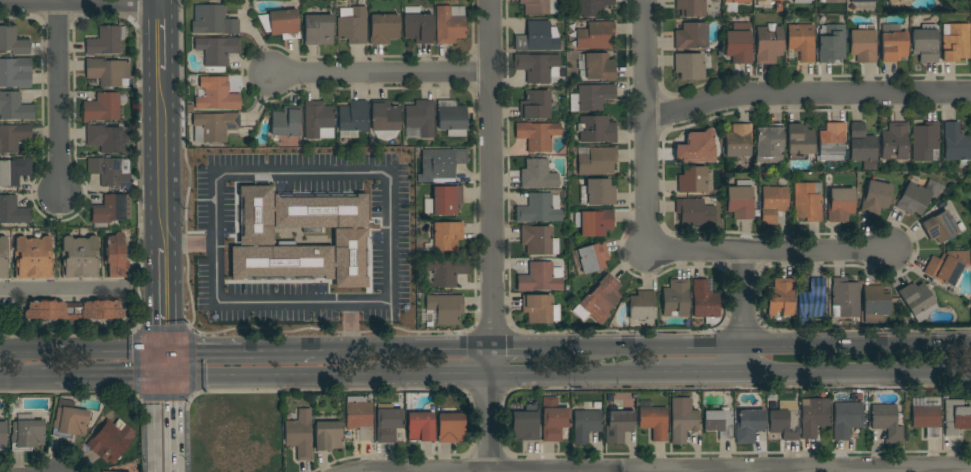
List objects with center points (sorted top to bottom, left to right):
road: (159, 1)
building: (737, 1)
building: (801, 1)
building: (831, 1)
road: (80, 2)
building: (862, 3)
building: (764, 4)
building: (898, 4)
building: (538, 7)
building: (590, 7)
building: (690, 8)
building: (212, 20)
building: (281, 23)
building: (449, 24)
building: (352, 25)
building: (417, 25)
building: (383, 29)
building: (318, 30)
building: (595, 36)
building: (691, 36)
road: (160, 37)
building: (537, 37)
building: (800, 40)
building: (12, 41)
building: (105, 41)
building: (955, 42)
building: (738, 43)
building: (830, 43)
building: (768, 44)
building: (892, 44)
building: (863, 45)
building: (924, 45)
building: (217, 50)
building: (595, 66)
building: (688, 66)
building: (537, 67)
building: (107, 71)
building: (15, 72)
road: (379, 73)
building: (216, 95)
road: (807, 96)
building: (590, 97)
road: (57, 98)
building: (535, 105)
building: (14, 107)
building: (101, 107)
building: (352, 116)
building: (384, 116)
building: (420, 117)
building: (452, 118)
building: (318, 120)
building: (285, 122)
road: (647, 125)
building: (213, 126)
building: (596, 129)
building: (537, 135)
building: (13, 137)
building: (104, 138)
building: (738, 140)
building: (799, 141)
building: (924, 141)
building: (831, 142)
building: (894, 142)
building: (768, 143)
building: (955, 144)
building: (862, 146)
building: (693, 150)
road: (160, 158)
building: (596, 160)
building: (441, 163)
building: (14, 171)
building: (110, 171)
building: (538, 175)
building: (692, 180)
building: (597, 192)
building: (916, 196)
building: (875, 197)
building: (444, 200)
building: (740, 201)
building: (807, 202)
building: (773, 204)
building: (840, 204)
building: (539, 209)
building: (110, 210)
building: (12, 211)
building: (695, 212)
building: (594, 222)
building: (940, 227)
road: (389, 232)
building: (446, 236)
road: (490, 236)
building: (350, 237)
building: (538, 240)
road: (188, 245)
road: (770, 250)
building: (115, 256)
building: (32, 257)
building: (79, 257)
building: (592, 257)
building: (3, 258)
parking lot: (389, 258)
building: (947, 267)
building: (445, 271)
building: (538, 278)
road: (66, 289)
building: (603, 295)
road: (161, 296)
building: (780, 297)
building: (675, 298)
building: (844, 298)
building: (811, 301)
building: (917, 301)
building: (705, 302)
building: (875, 303)
building: (641, 305)
building: (445, 308)
building: (537, 308)
building: (73, 310)
road: (745, 310)
road: (350, 325)
road: (163, 329)
road: (771, 341)
road: (532, 344)
road: (402, 346)
road: (237, 348)
traffic signals: (162, 349)
road: (81, 350)
road: (191, 351)
road: (162, 362)
road: (137, 364)
road: (966, 369)
road: (853, 370)
road: (692, 371)
road: (440, 372)
road: (566, 372)
road: (276, 374)
traffic signals: (163, 375)
road: (21, 376)
road: (102, 376)
road: (191, 386)
road: (164, 397)
building: (359, 416)
building: (813, 416)
building: (956, 417)
building: (846, 419)
building: (926, 419)
building: (69, 420)
building: (682, 420)
building: (784, 421)
road: (152, 422)
road: (174, 422)
building: (654, 422)
building: (718, 422)
building: (886, 422)
building: (387, 423)
building: (554, 423)
building: (524, 424)
building: (585, 425)
building: (748, 425)
building: (420, 426)
building: (618, 426)
building: (450, 428)
building: (3, 433)
building: (26, 433)
building: (299, 434)
building: (328, 435)
building: (109, 441)
building: (101, 471)
road: (888, 471)

